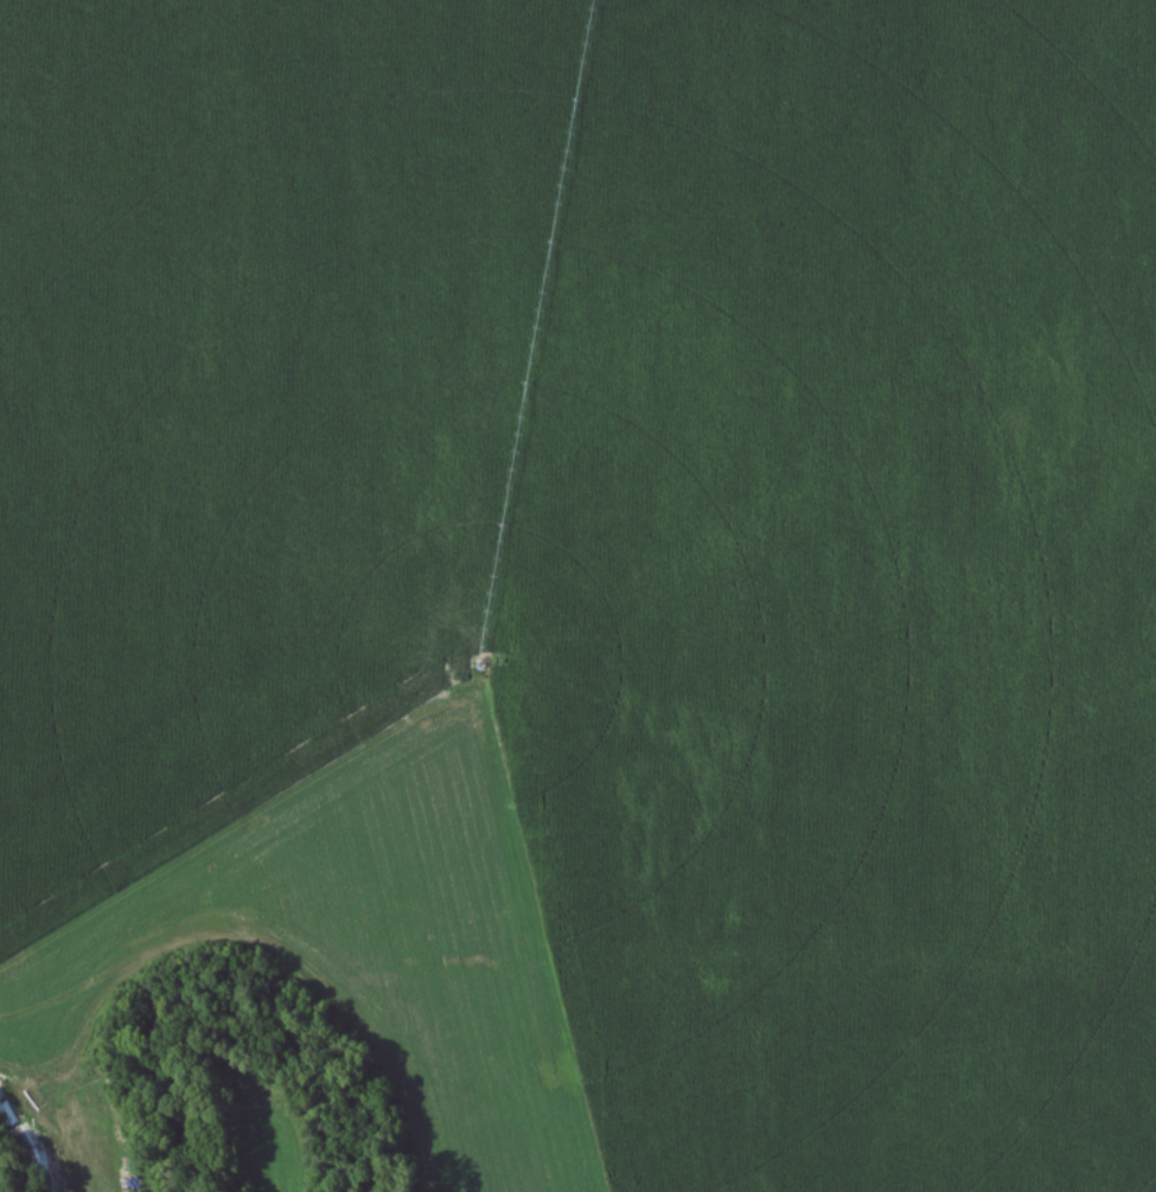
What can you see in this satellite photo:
building: (43, 1186)

